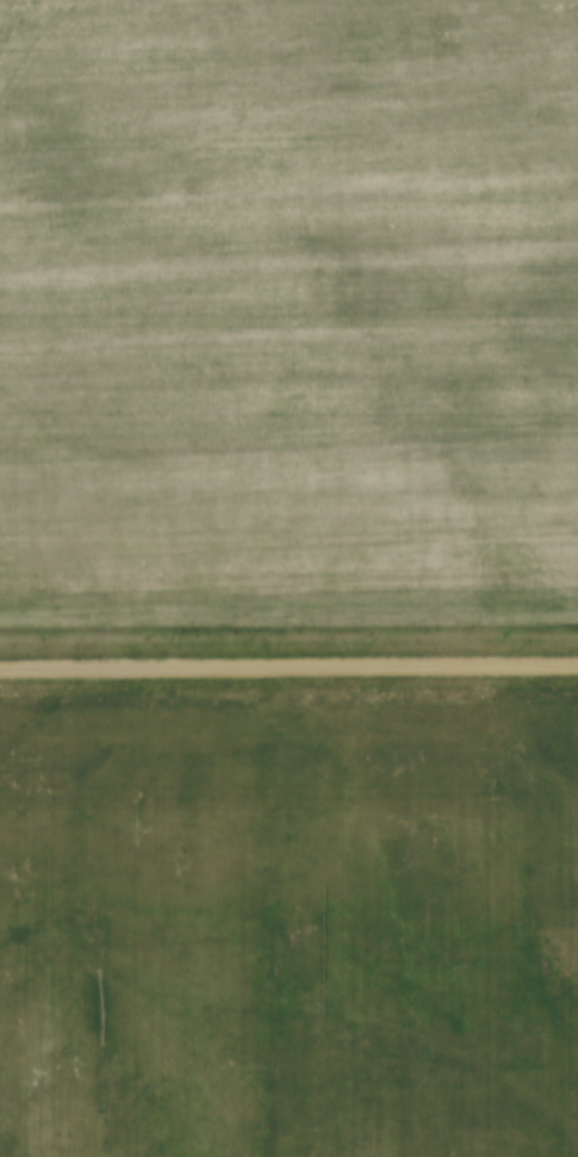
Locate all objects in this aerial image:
road: (288, 670)

